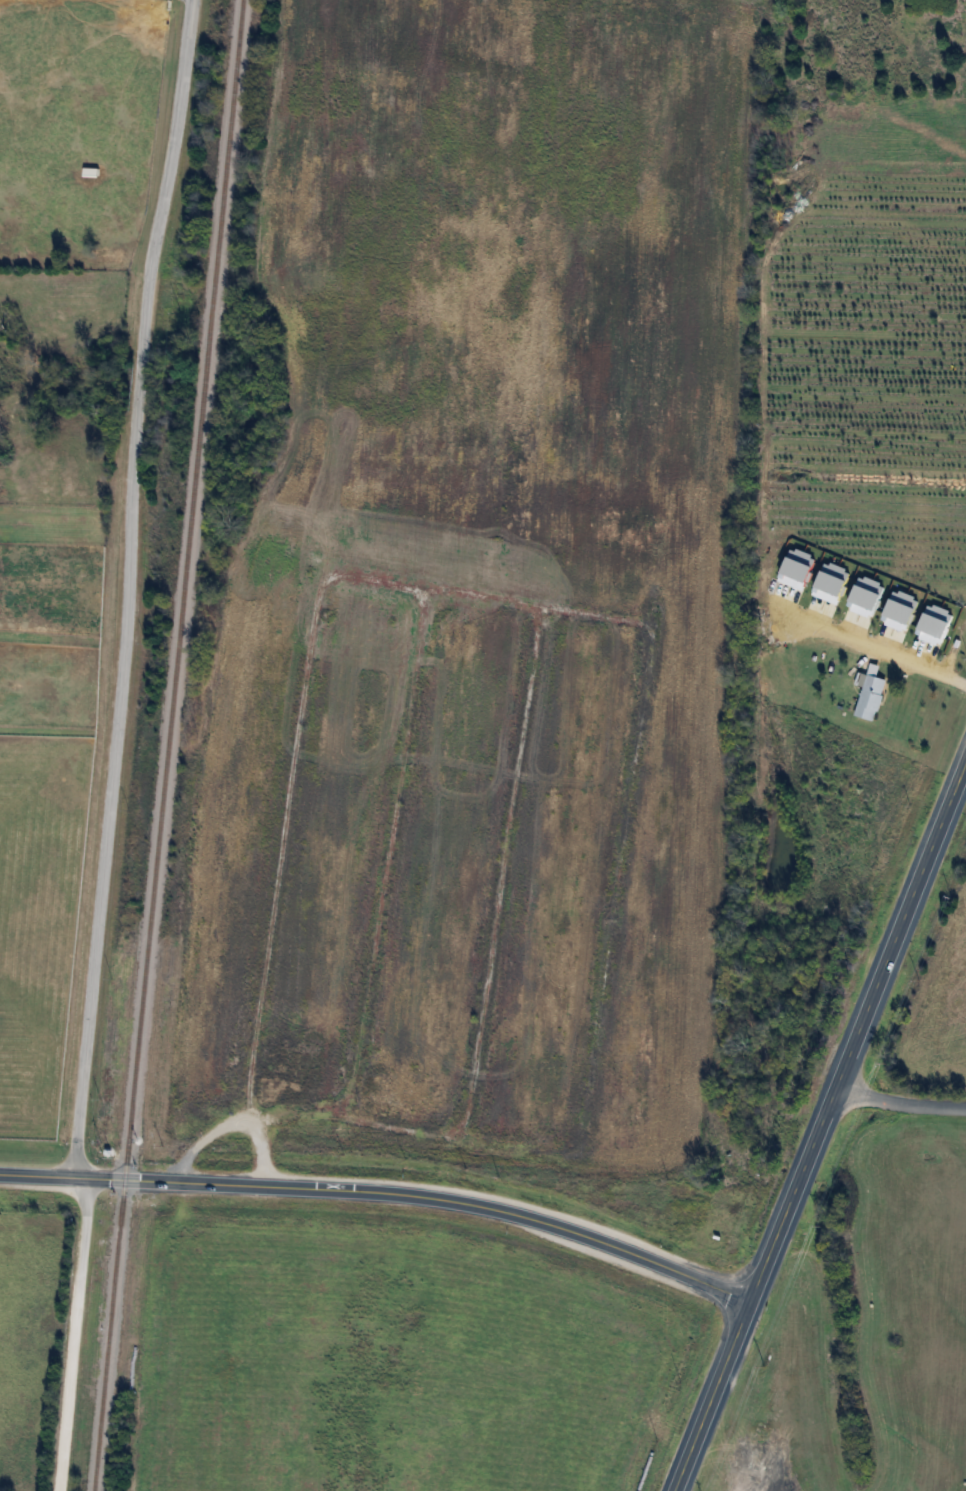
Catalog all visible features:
road: (158, 210)
road: (879, 648)
building: (871, 697)
railway: (166, 745)
road: (898, 920)
road: (94, 957)
road: (900, 1103)
road: (233, 1123)
road: (794, 1192)
road: (383, 1193)
road: (712, 1394)

